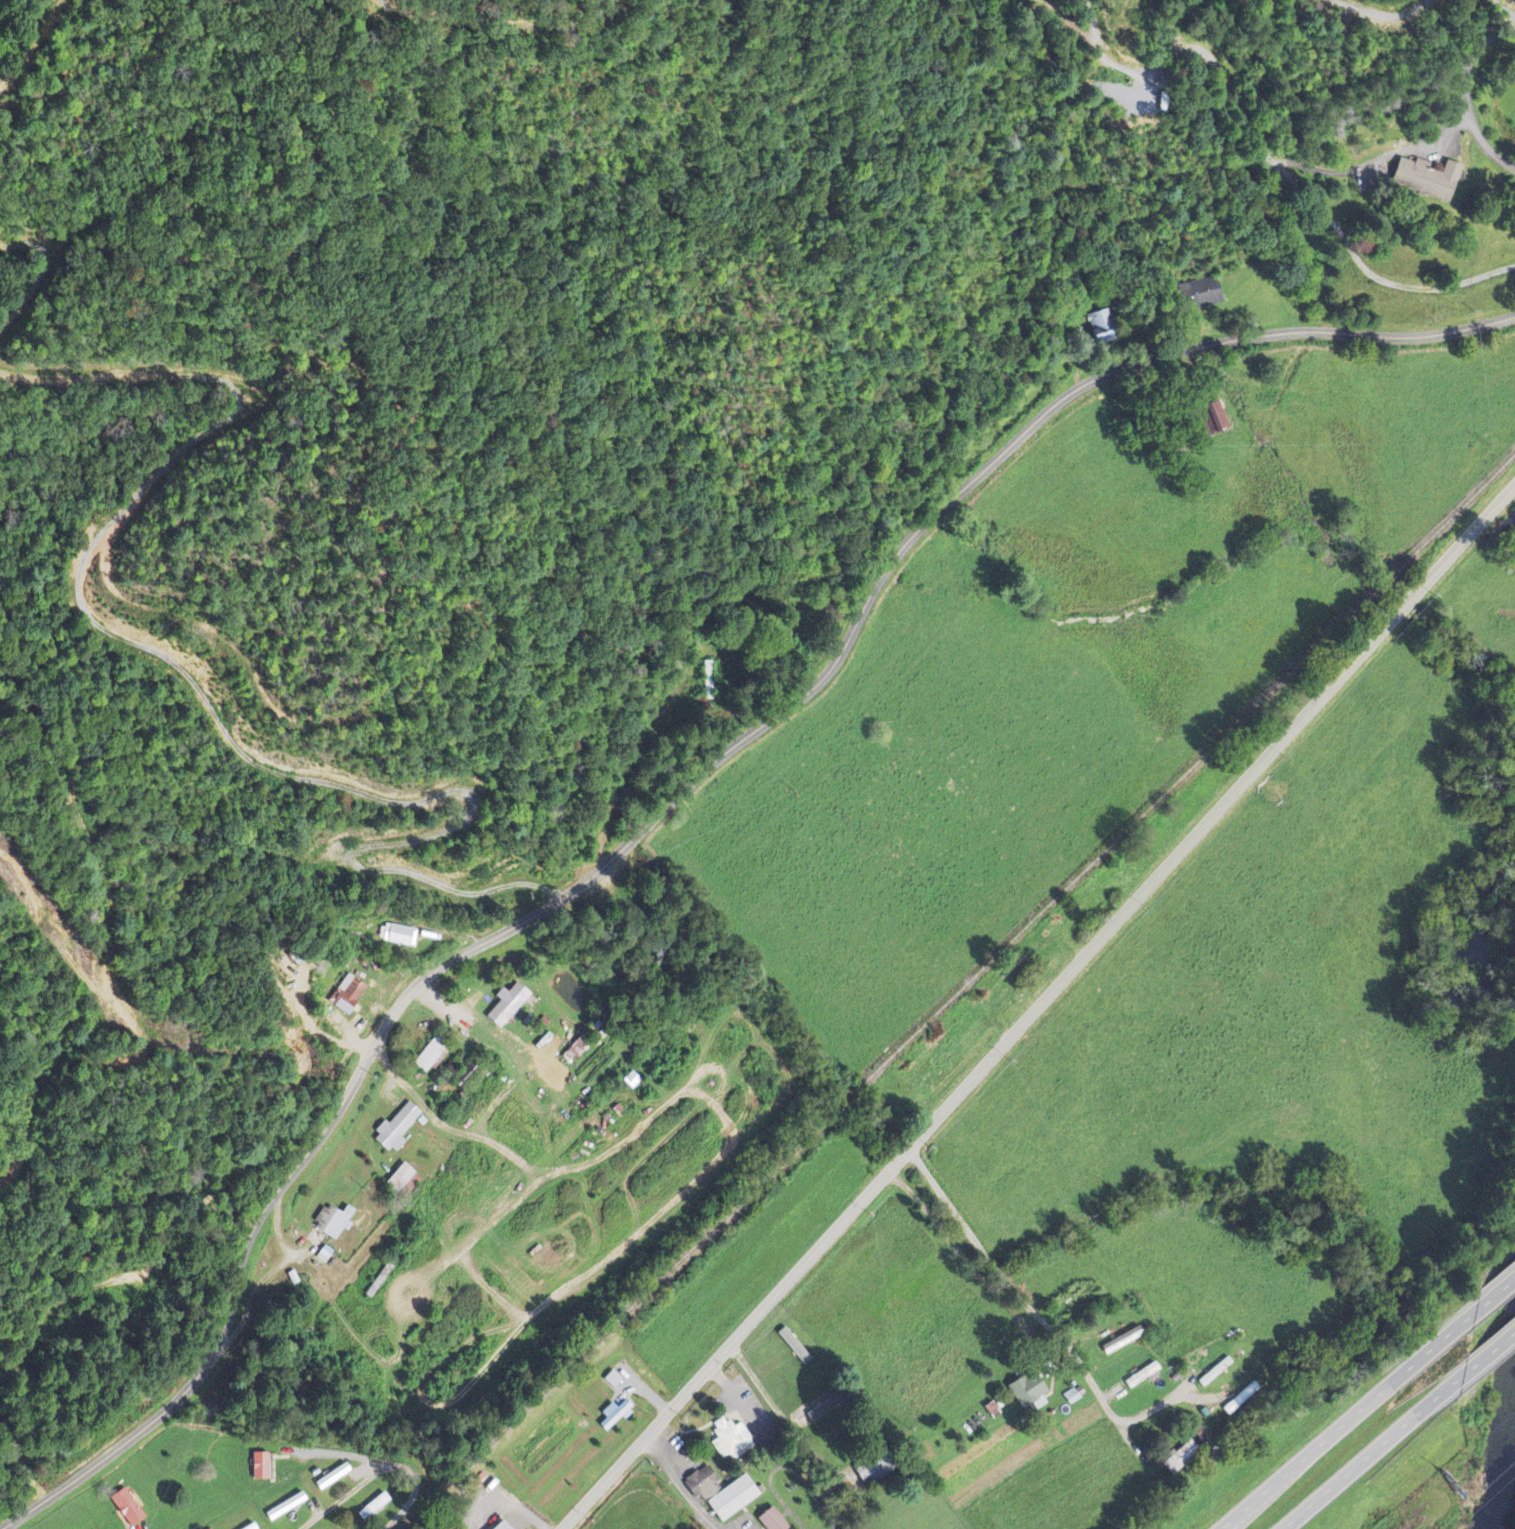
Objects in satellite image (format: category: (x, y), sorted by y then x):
building: (1426, 178)
building: (1200, 292)
building: (1215, 416)
railway: (1466, 502)
railway: (1408, 557)
road: (676, 795)
building: (398, 935)
building: (347, 995)
building: (507, 1005)
road: (1038, 1006)
railway: (900, 1046)
building: (575, 1052)
building: (429, 1056)
building: (393, 1129)
building: (402, 1182)
building: (332, 1221)
road: (1487, 1300)
road: (1036, 1311)
building: (1122, 1341)
road: (1480, 1357)
building: (1027, 1390)
building: (614, 1416)
road: (1339, 1425)
building: (731, 1440)
road: (1363, 1457)
building: (1180, 1458)
building: (260, 1467)
building: (870, 1470)
road: (379, 1476)
river: (1507, 1480)
building: (721, 1494)
road: (334, 1500)
building: (127, 1508)
building: (771, 1521)
building: (501, 1526)

